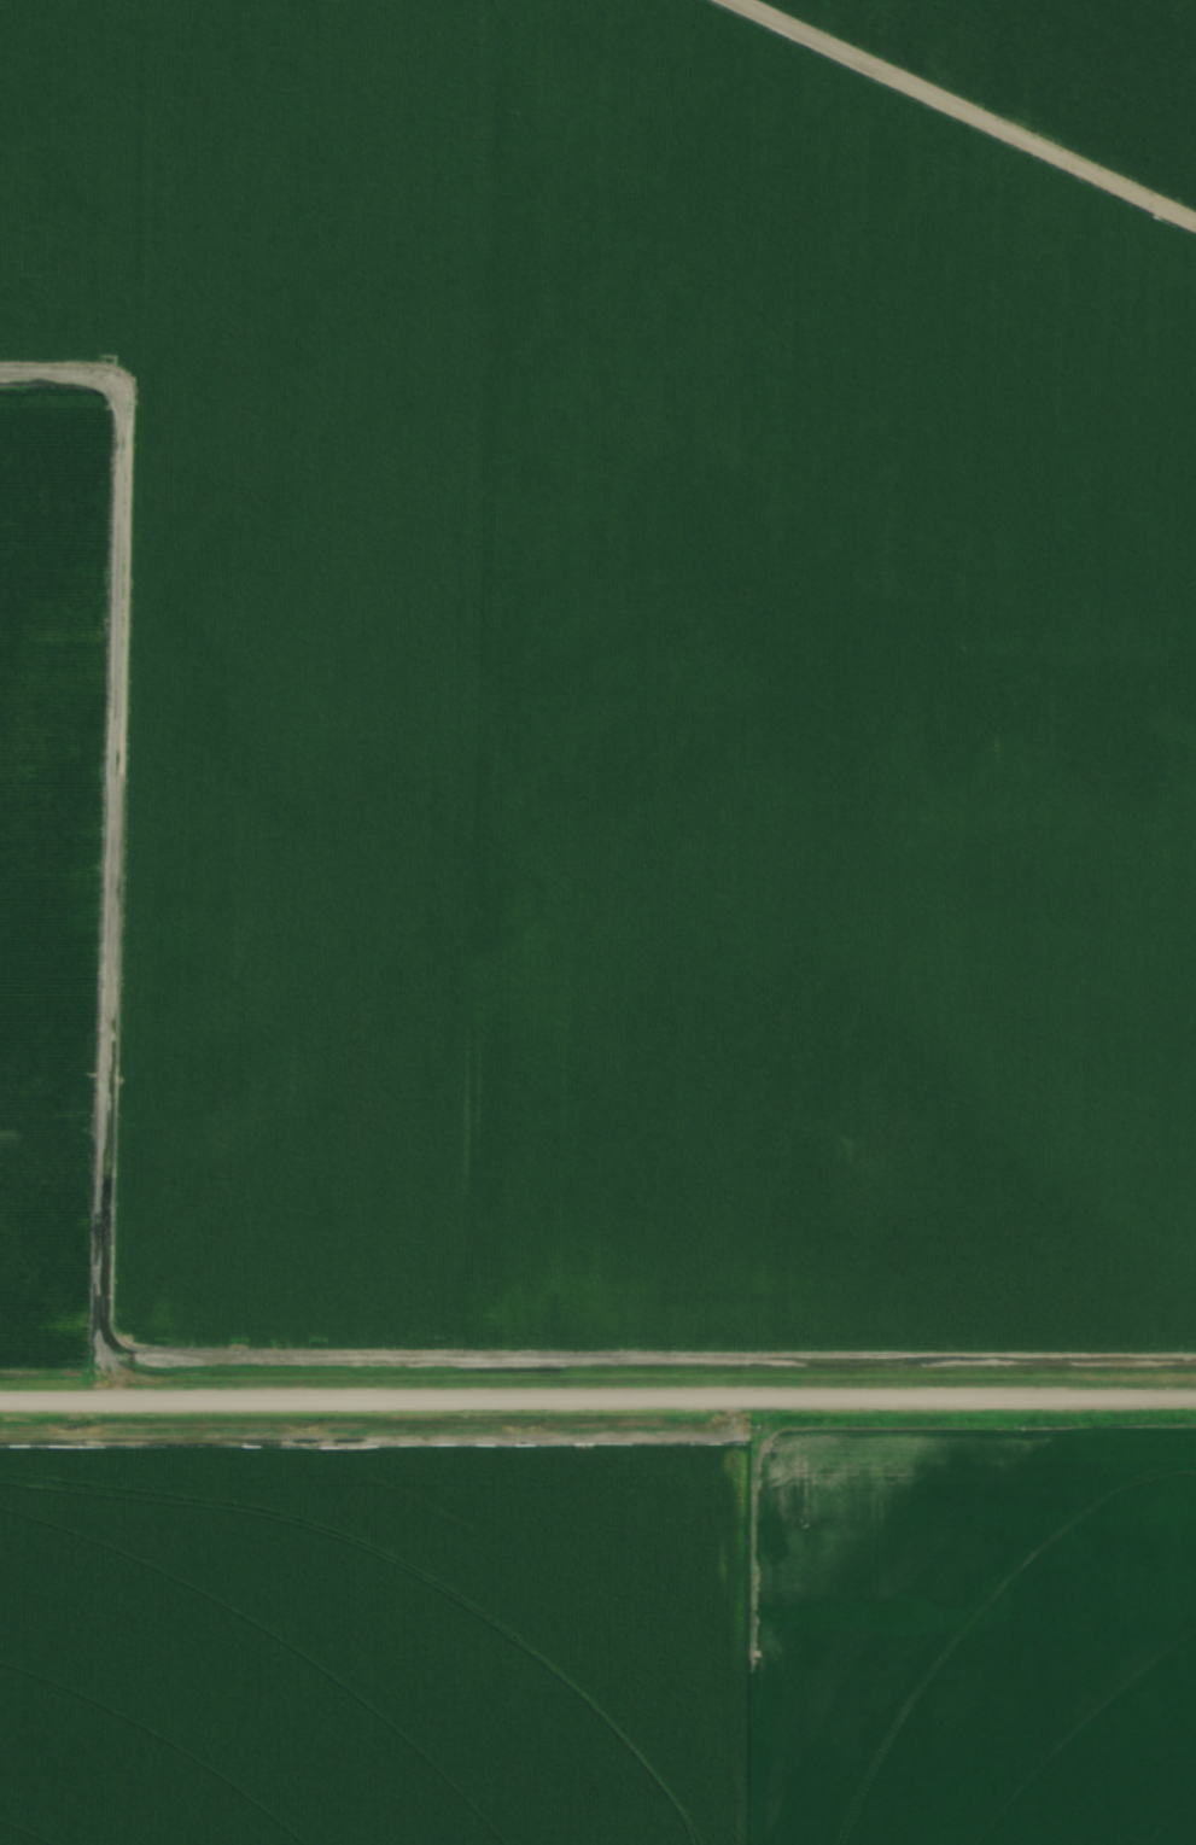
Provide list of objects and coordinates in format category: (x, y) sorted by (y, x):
road: (597, 1407)

